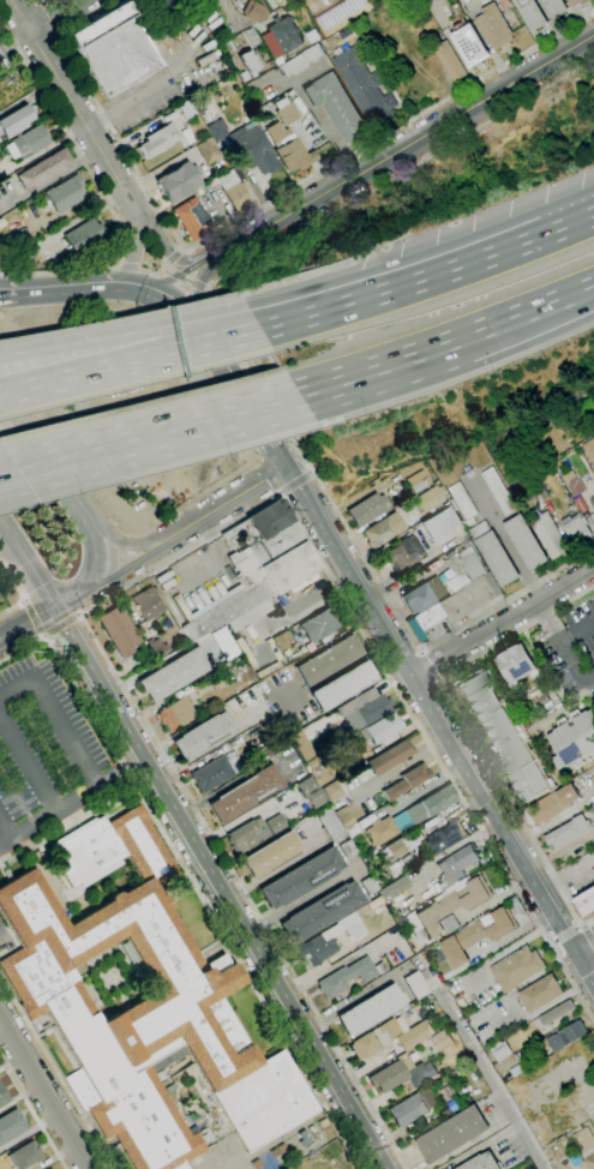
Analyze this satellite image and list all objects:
road: (38, 0)
building: (202, 0)
building: (193, 1)
road: (36, 2)
road: (38, 2)
building: (575, 2)
building: (158, 5)
building: (553, 7)
road: (19, 12)
building: (256, 12)
building: (338, 13)
building: (530, 13)
road: (61, 17)
road: (47, 18)
road: (2, 20)
building: (493, 26)
road: (55, 34)
building: (284, 35)
building: (251, 36)
road: (54, 37)
building: (468, 43)
road: (38, 46)
building: (116, 49)
road: (23, 53)
building: (302, 61)
building: (448, 61)
building: (250, 64)
building: (364, 88)
road: (77, 108)
building: (336, 108)
building: (187, 110)
building: (287, 113)
road: (103, 115)
building: (14, 122)
building: (217, 130)
road: (392, 130)
building: (277, 132)
building: (284, 140)
building: (157, 142)
building: (28, 143)
building: (254, 149)
road: (400, 149)
building: (209, 151)
building: (295, 156)
building: (42, 169)
road: (49, 179)
building: (179, 181)
building: (235, 188)
road: (102, 191)
building: (65, 194)
building: (193, 220)
road: (568, 224)
building: (84, 236)
building: (7, 246)
road: (179, 250)
road: (168, 251)
road: (138, 252)
road: (173, 257)
road: (120, 265)
road: (128, 266)
road: (169, 270)
road: (181, 274)
road: (156, 275)
road: (188, 281)
traffic signals: (125, 284)
road: (401, 286)
traffic signals: (158, 287)
road: (78, 288)
road: (198, 288)
road: (209, 290)
road: (179, 299)
road: (244, 334)
road: (113, 336)
road: (469, 337)
road: (250, 365)
road: (26, 366)
road: (113, 366)
road: (246, 388)
road: (322, 389)
road: (29, 413)
road: (181, 427)
building: (588, 451)
road: (30, 464)
road: (311, 473)
road: (30, 478)
road: (295, 481)
building: (419, 481)
building: (571, 484)
building: (497, 491)
road: (282, 492)
road: (77, 494)
building: (539, 494)
building: (431, 499)
road: (230, 500)
building: (462, 503)
building: (592, 505)
building: (367, 509)
building: (442, 522)
road: (137, 526)
building: (383, 530)
building: (575, 530)
building: (548, 538)
building: (524, 542)
road: (131, 544)
building: (403, 553)
building: (494, 554)
road: (167, 560)
road: (26, 563)
building: (256, 570)
road: (91, 575)
road: (113, 575)
road: (524, 578)
road: (19, 592)
building: (419, 597)
road: (25, 600)
building: (460, 601)
building: (148, 604)
road: (78, 615)
road: (34, 617)
road: (504, 621)
road: (25, 623)
road: (61, 624)
building: (318, 624)
building: (119, 630)
road: (43, 634)
road: (46, 634)
building: (282, 640)
building: (224, 643)
road: (22, 647)
road: (421, 653)
building: (328, 660)
building: (515, 664)
road: (428, 665)
building: (173, 673)
building: (217, 677)
road: (437, 681)
building: (343, 685)
road: (59, 711)
building: (371, 711)
building: (175, 713)
road: (443, 725)
building: (340, 726)
building: (380, 729)
road: (466, 730)
building: (203, 735)
building: (502, 735)
building: (572, 739)
parking lot: (42, 742)
building: (300, 745)
building: (389, 756)
road: (28, 761)
building: (337, 771)
building: (211, 773)
building: (593, 778)
building: (407, 780)
building: (308, 786)
building: (334, 790)
building: (246, 792)
road: (72, 803)
building: (430, 804)
building: (550, 807)
building: (344, 817)
building: (329, 822)
building: (353, 829)
building: (380, 829)
building: (253, 832)
building: (568, 832)
road: (4, 833)
building: (444, 835)
building: (347, 849)
building: (396, 849)
building: (271, 855)
building: (455, 865)
building: (301, 877)
road: (568, 880)
building: (368, 885)
building: (394, 887)
road: (221, 888)
road: (301, 899)
road: (204, 900)
building: (584, 904)
building: (449, 907)
building: (320, 912)
building: (413, 924)
road: (583, 927)
building: (355, 930)
building: (475, 936)
road: (588, 936)
road: (582, 945)
building: (318, 946)
building: (516, 969)
building: (350, 976)
building: (415, 984)
building: (540, 993)
building: (140, 1002)
building: (371, 1009)
building: (553, 1013)
building: (414, 1035)
building: (565, 1036)
building: (373, 1039)
building: (440, 1041)
building: (499, 1050)
road: (56, 1072)
building: (390, 1073)
building: (420, 1074)
road: (491, 1083)
road: (44, 1092)
building: (2, 1096)
building: (448, 1108)
building: (407, 1109)
road: (32, 1111)
building: (11, 1125)
building: (451, 1134)
building: (584, 1145)
building: (25, 1155)
building: (480, 1162)
building: (49, 1168)

